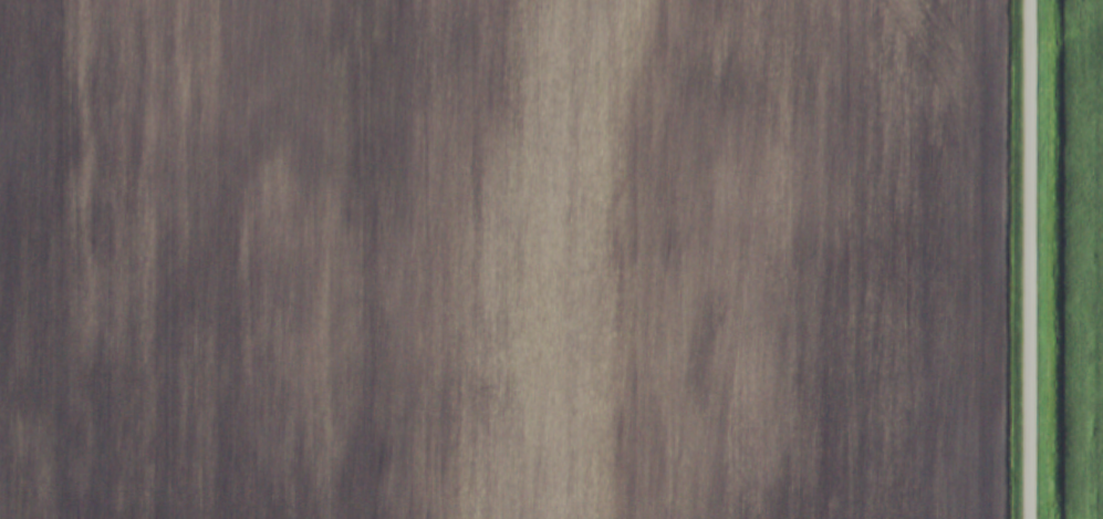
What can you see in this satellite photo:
road: (1029, 259)

